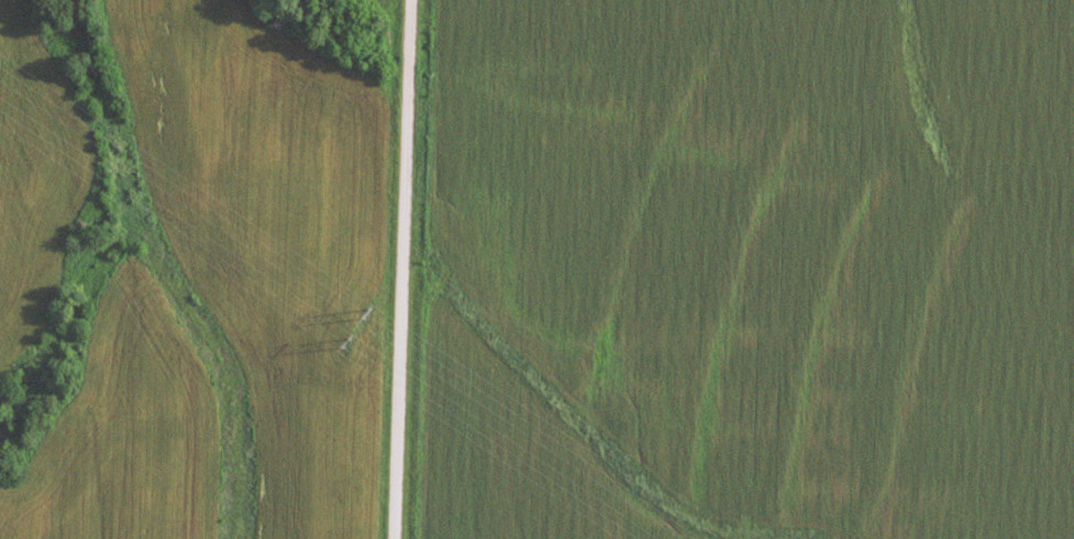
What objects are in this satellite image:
road: (400, 269)
power tower: (363, 312)
power tower: (343, 343)

